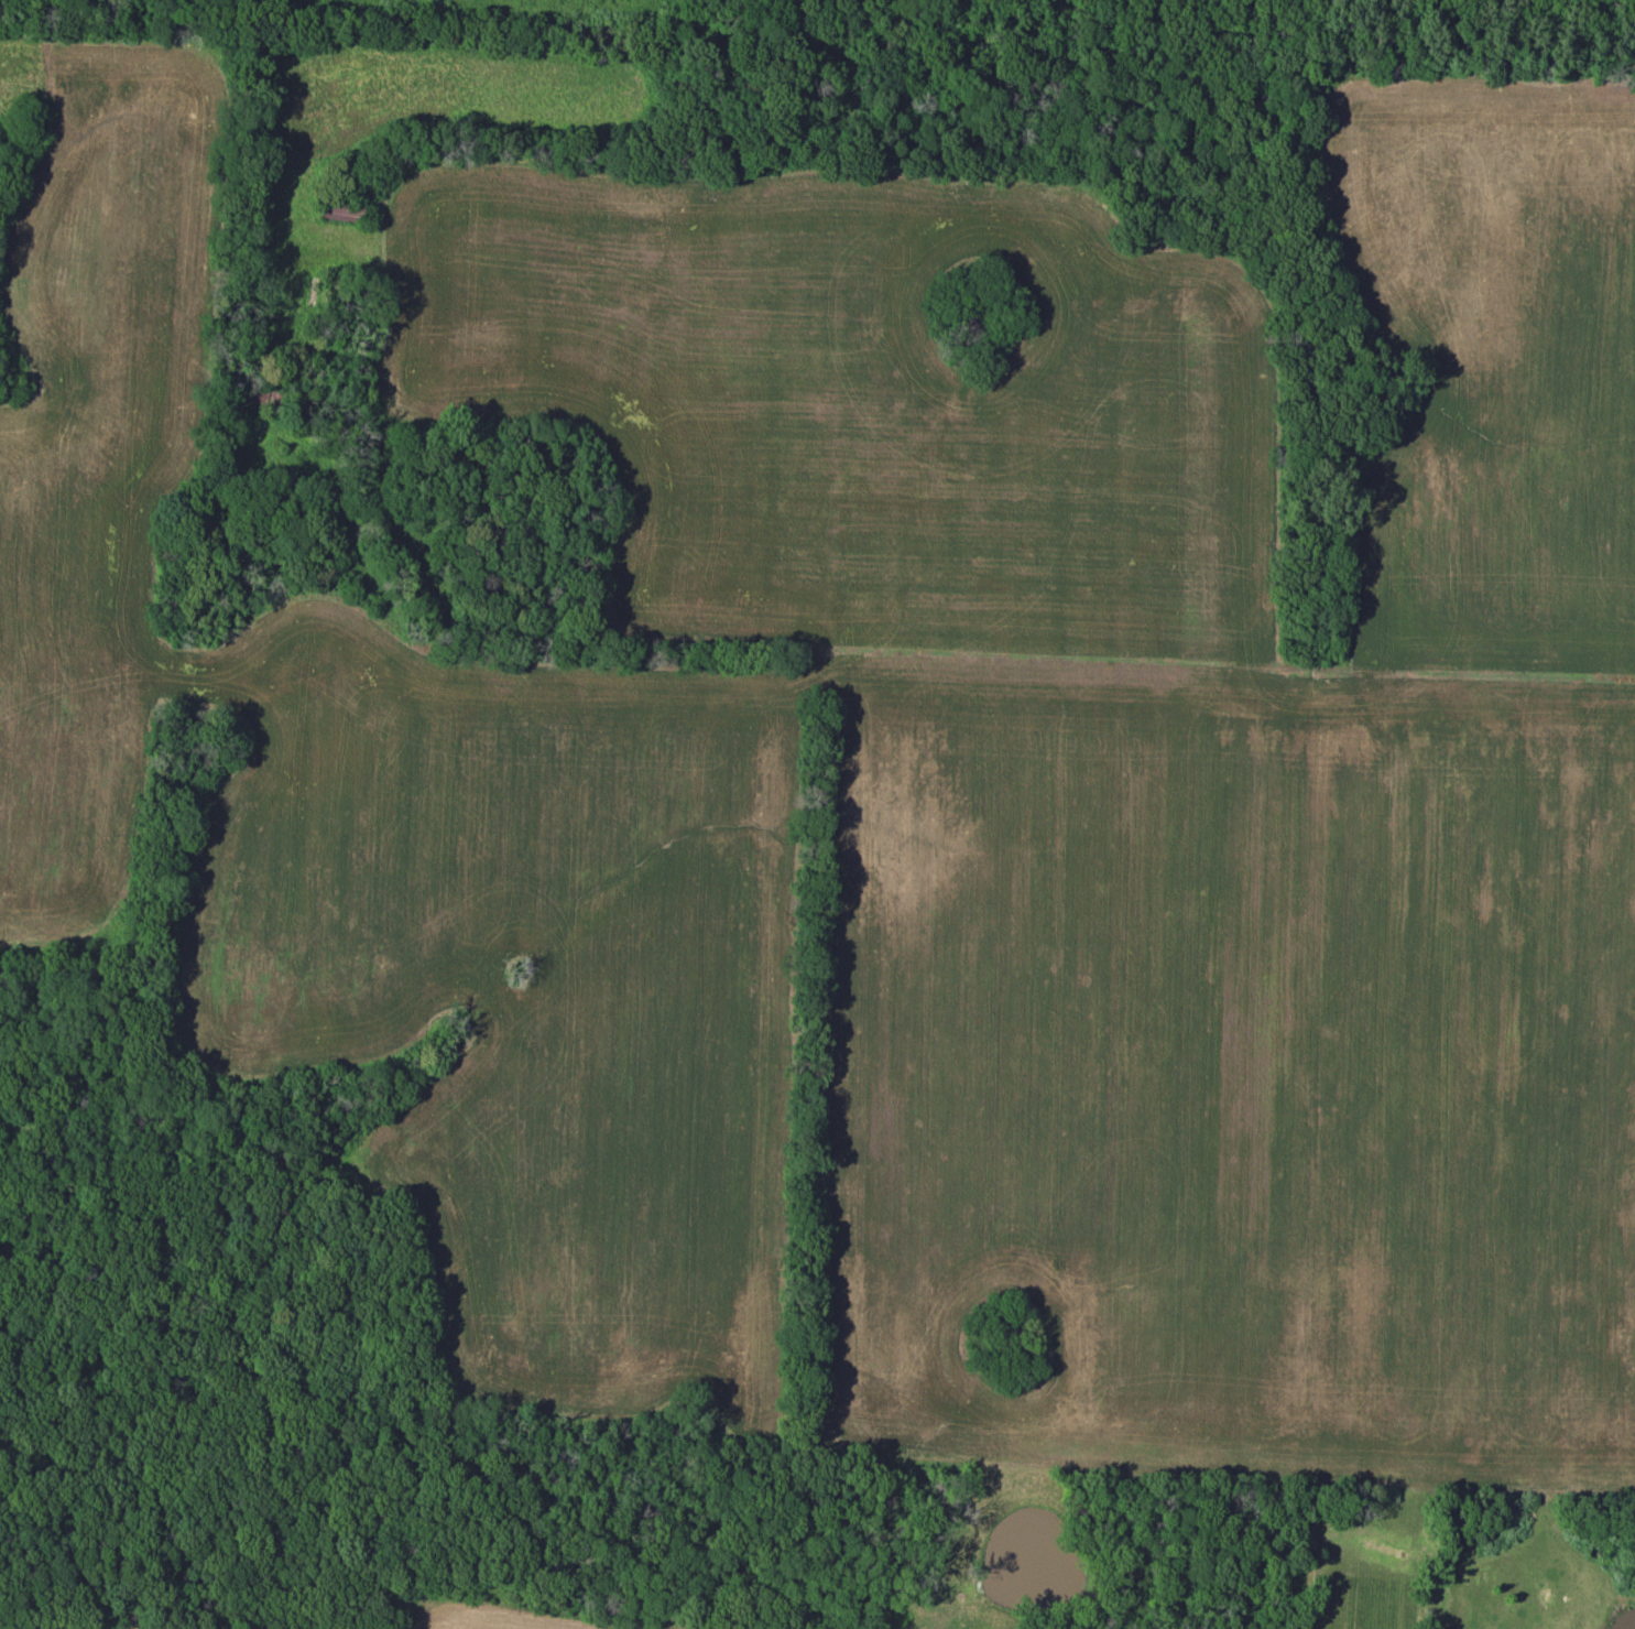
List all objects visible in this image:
park: (1192, 18)
crop: (1132, 739)
crop: (393, 826)
crop: (533, 1617)
crop: (123, 1627)

